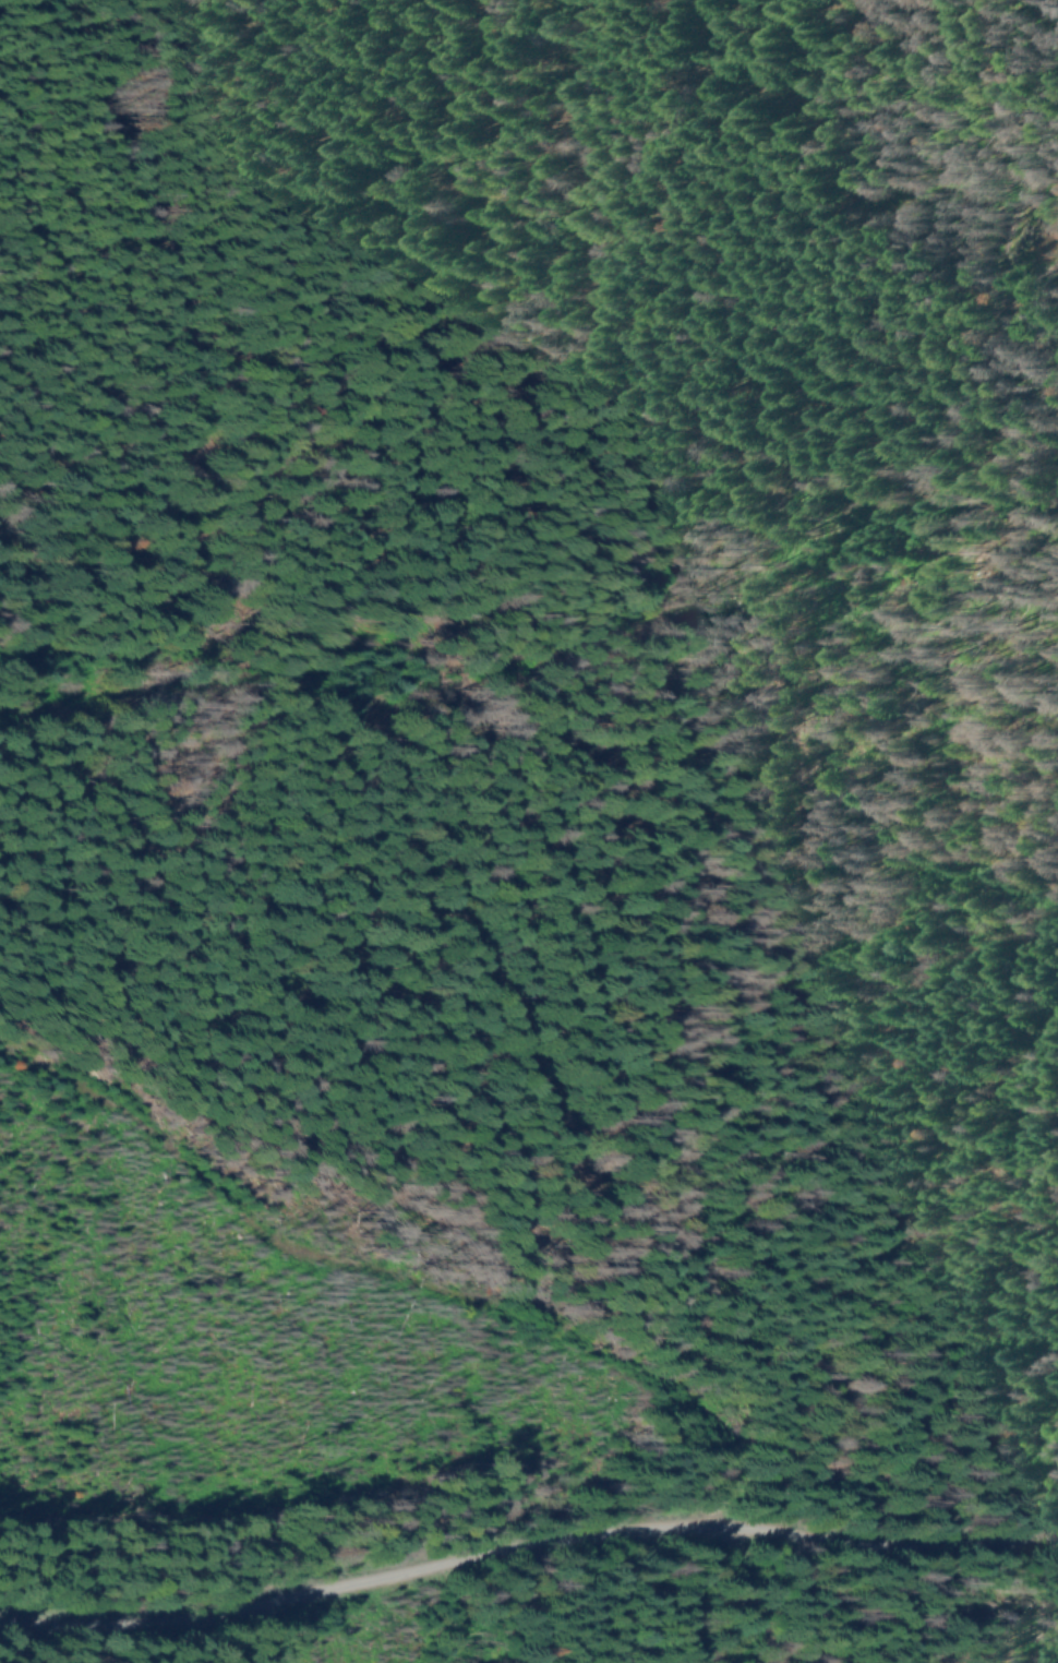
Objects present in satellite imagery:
road: (526, 1543)

